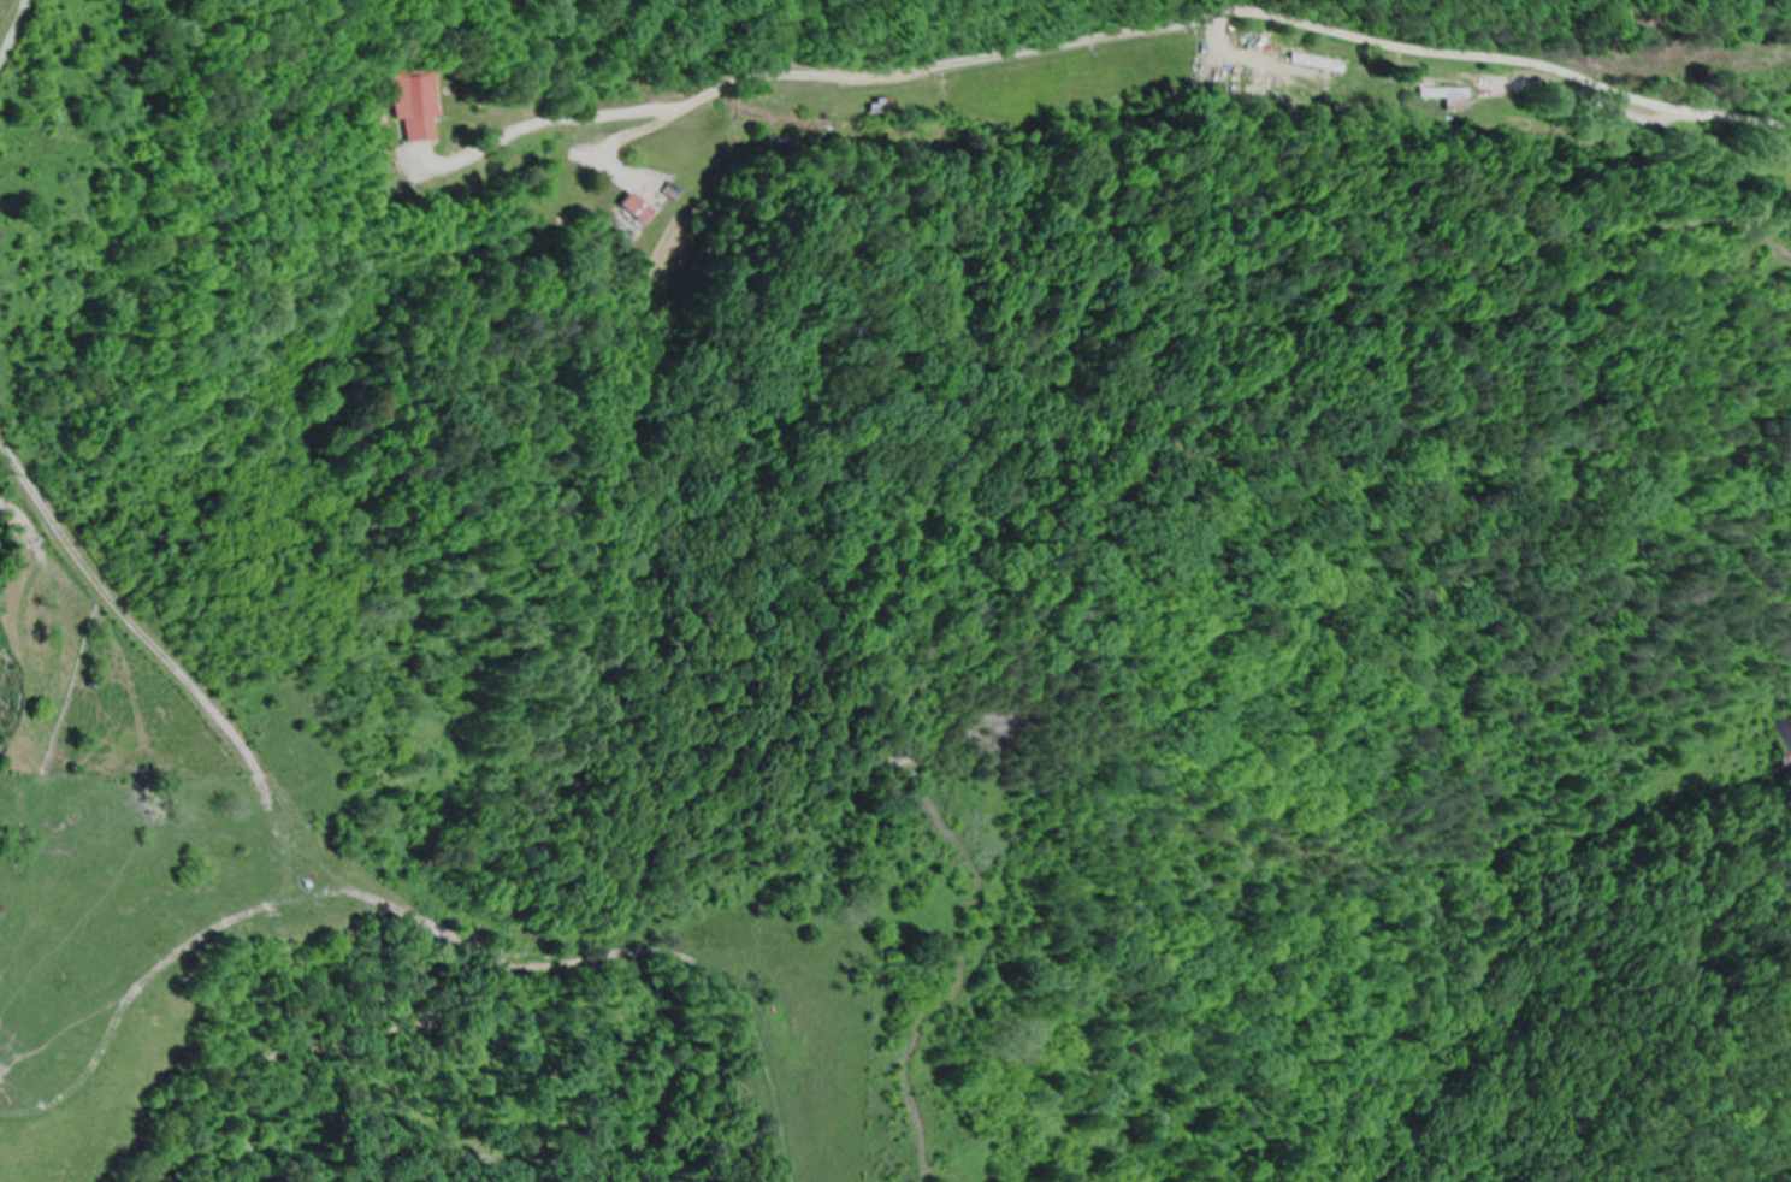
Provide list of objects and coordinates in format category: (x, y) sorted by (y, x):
road: (1505, 63)
building: (413, 107)

